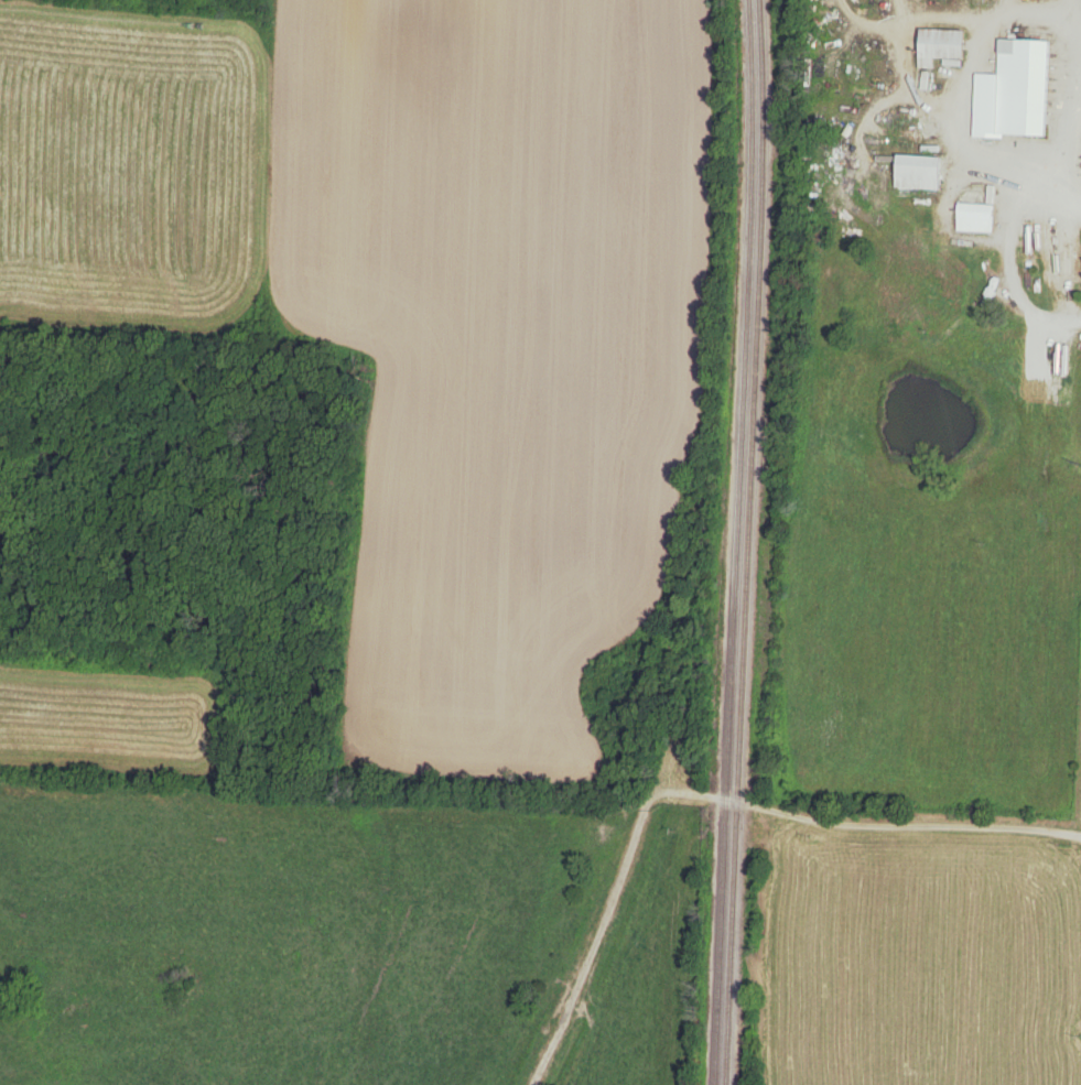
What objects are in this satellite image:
building: (944, 45)
building: (1025, 87)
building: (921, 172)
railway: (758, 175)
road: (999, 177)
road: (1079, 208)
building: (976, 217)
railway: (734, 542)
railway: (737, 717)
road: (868, 823)

